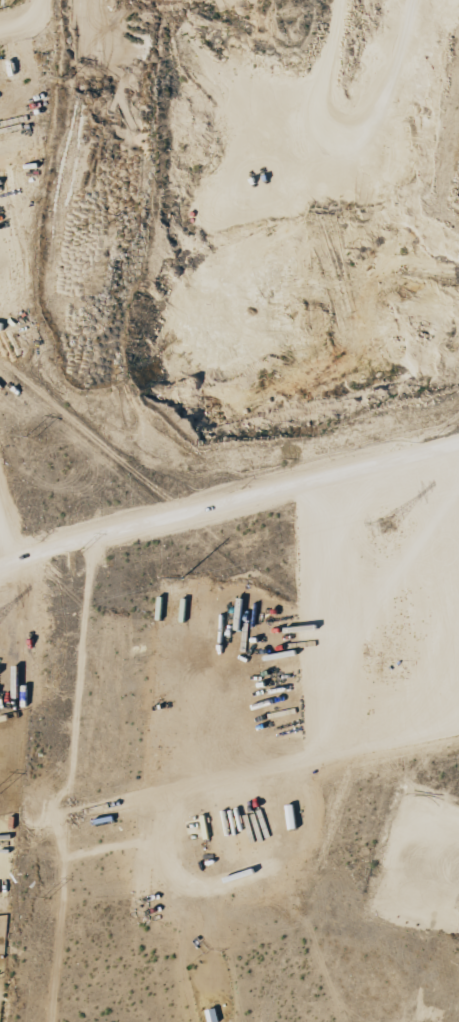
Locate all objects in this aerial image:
road: (52, 11)
road: (26, 28)
power tower: (65, 80)
power tower: (110, 226)
power tower: (30, 438)
road: (234, 503)
power tower: (391, 525)
road: (5, 546)
power tower: (79, 553)
road: (5, 567)
power tower: (45, 899)

